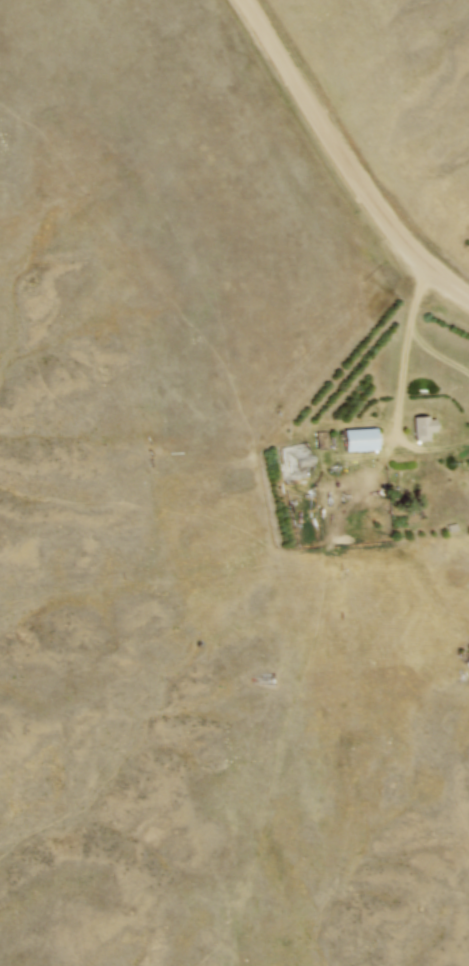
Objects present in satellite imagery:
road: (345, 158)
road: (417, 298)
road: (403, 386)
building: (423, 428)
building: (359, 440)

